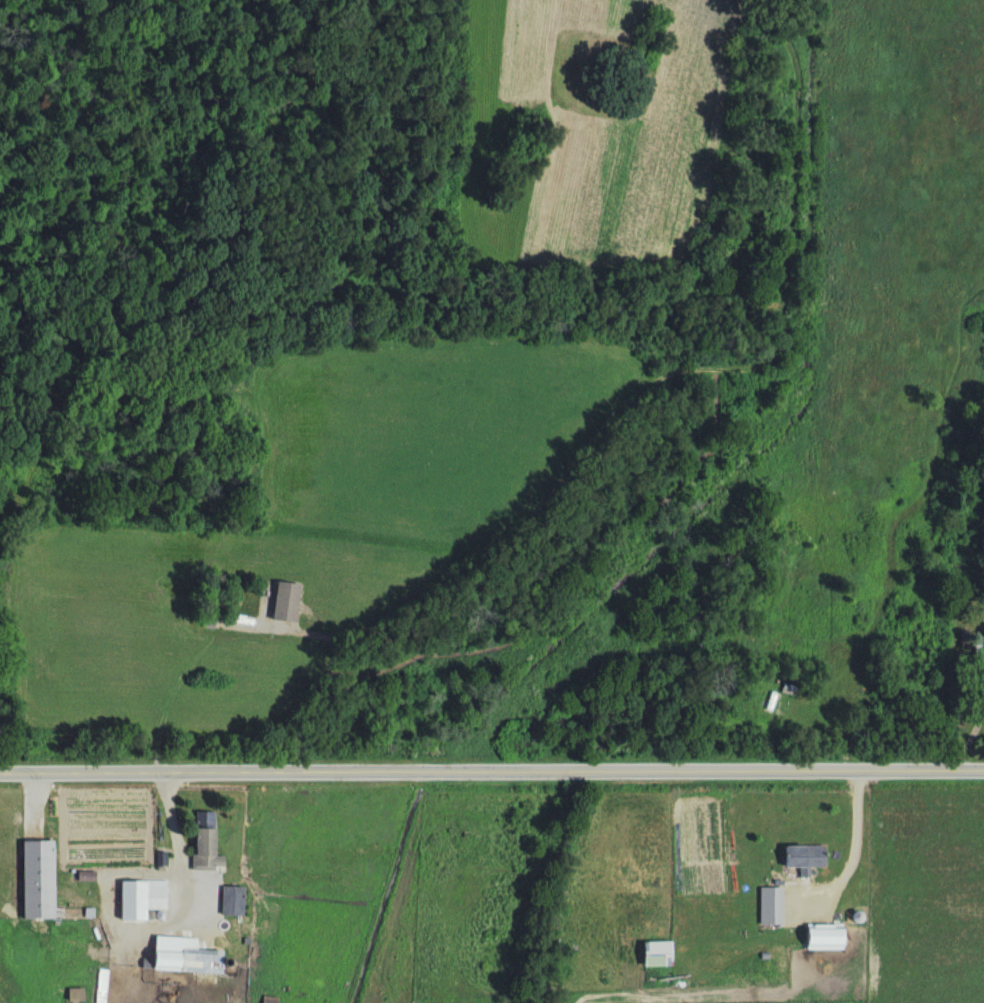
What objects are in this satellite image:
building: (285, 602)
building: (977, 647)
road: (282, 717)
road: (491, 768)
building: (208, 843)
building: (805, 858)
building: (143, 900)
building: (826, 938)
building: (188, 957)

